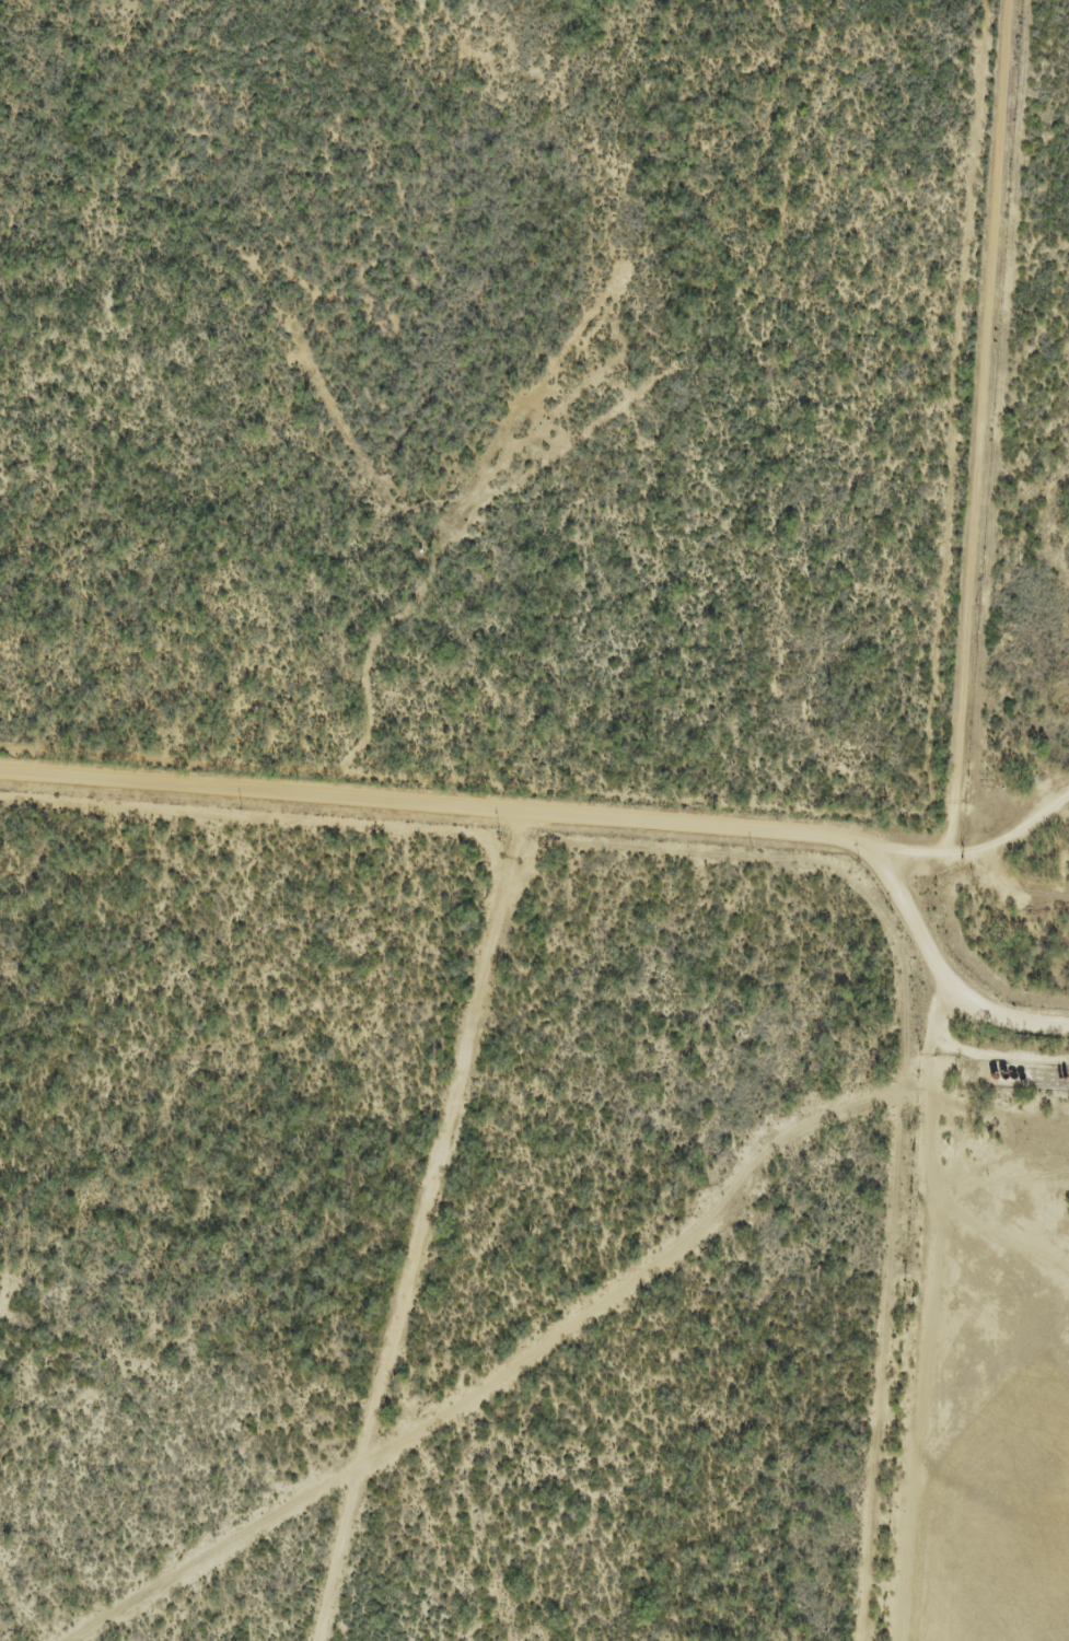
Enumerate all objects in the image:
road: (988, 410)
road: (450, 798)
road: (975, 810)
road: (929, 938)
road: (1016, 1023)
road: (427, 1222)
road: (909, 1323)

